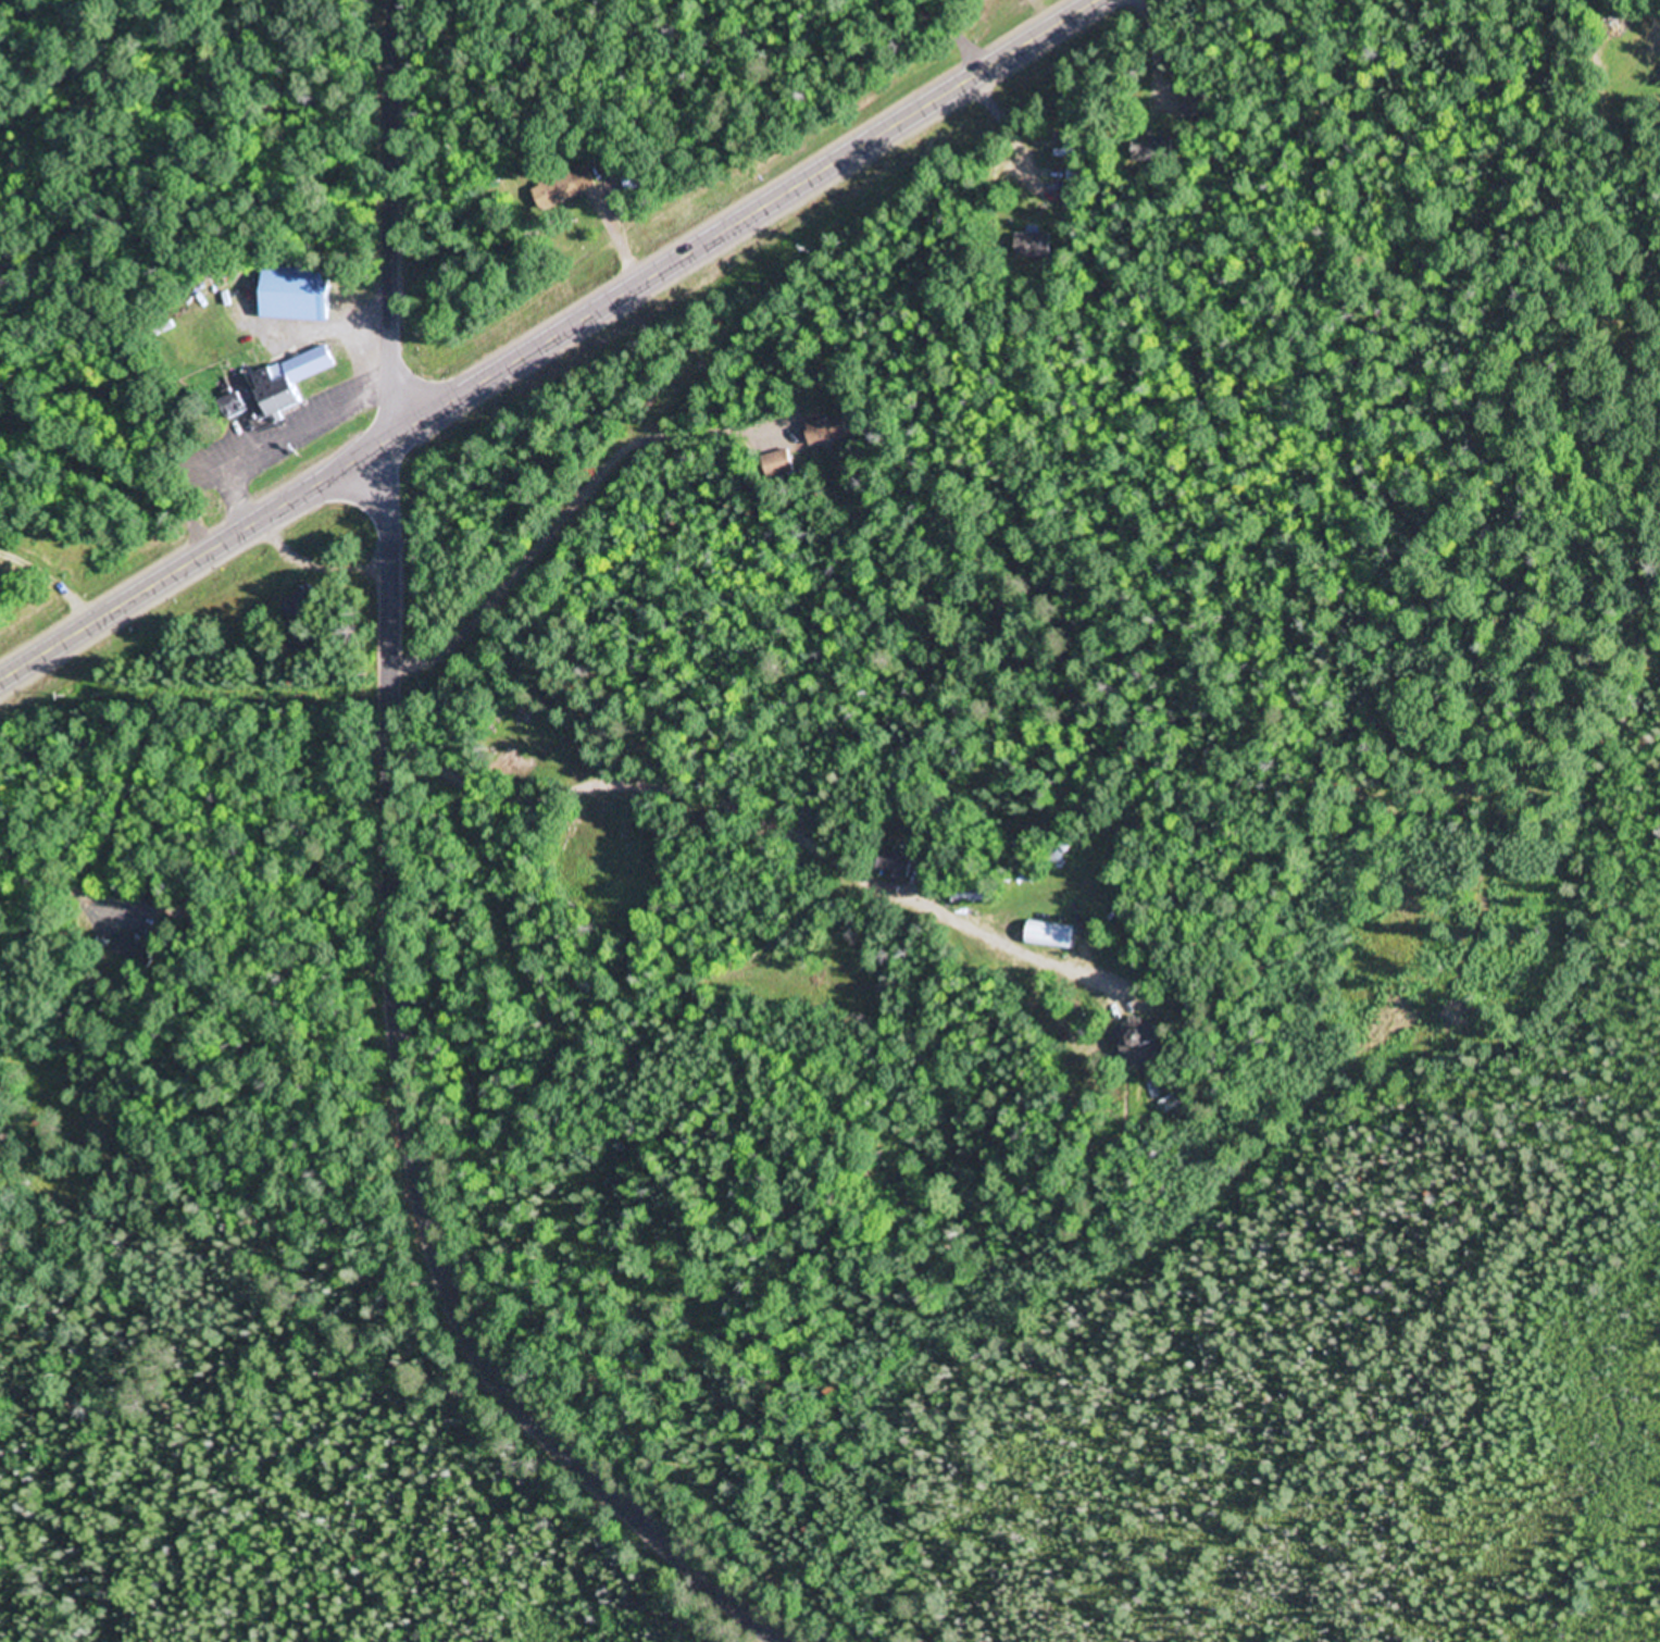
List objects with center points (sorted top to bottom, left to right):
road: (921, 1)
road: (923, 1)
road: (1043, 12)
road: (952, 35)
road: (1151, 63)
building: (1191, 107)
road: (185, 119)
road: (1004, 126)
building: (635, 181)
building: (546, 195)
building: (1070, 195)
road: (391, 216)
road: (614, 234)
building: (1034, 246)
building: (297, 295)
road: (510, 314)
road: (546, 338)
road: (572, 366)
building: (292, 382)
building: (237, 405)
building: (827, 430)
building: (778, 464)
road: (573, 499)
building: (304, 609)
building: (895, 863)
building: (1026, 876)
building: (972, 898)
building: (1050, 936)
building: (134, 950)
building: (1145, 1040)
road: (413, 1111)

